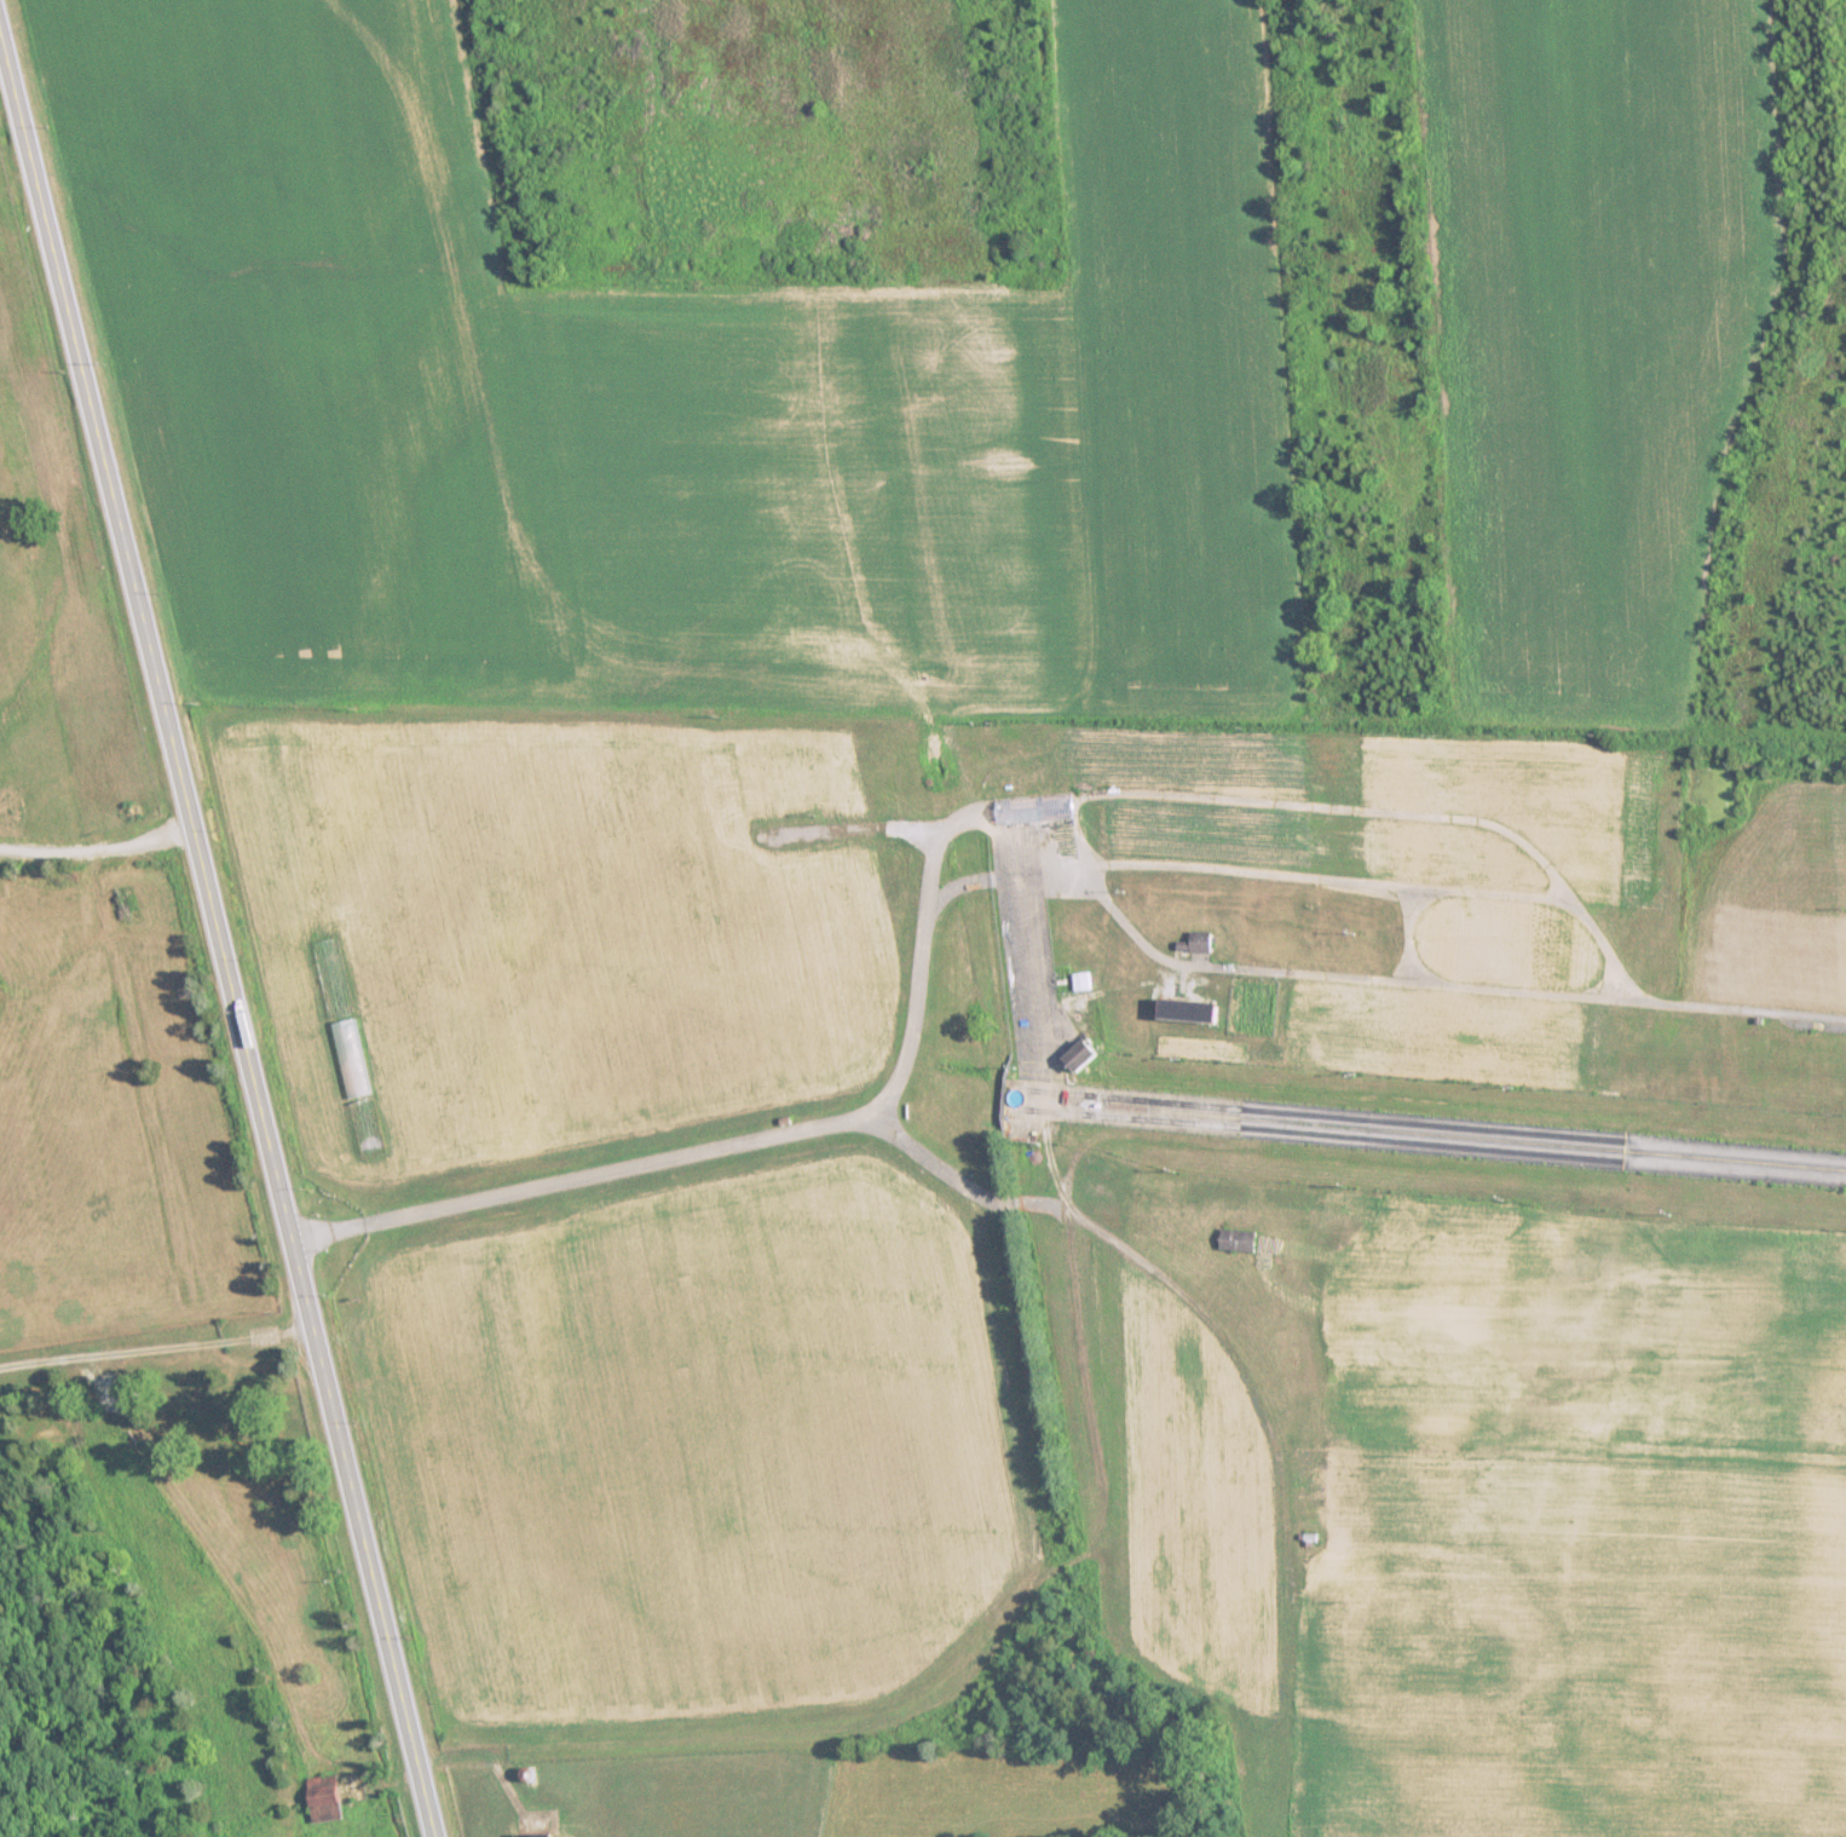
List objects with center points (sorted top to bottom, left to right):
road: (1230, 801)
road: (1004, 874)
road: (1411, 933)
road: (218, 937)
building: (1199, 944)
road: (1029, 954)
road: (1340, 977)
building: (1083, 983)
building: (1194, 1013)
building: (1081, 1060)
raceway: (1429, 1133)
building: (1242, 1240)
building: (258, 1541)
track: (1442, 1657)
building: (328, 1798)

